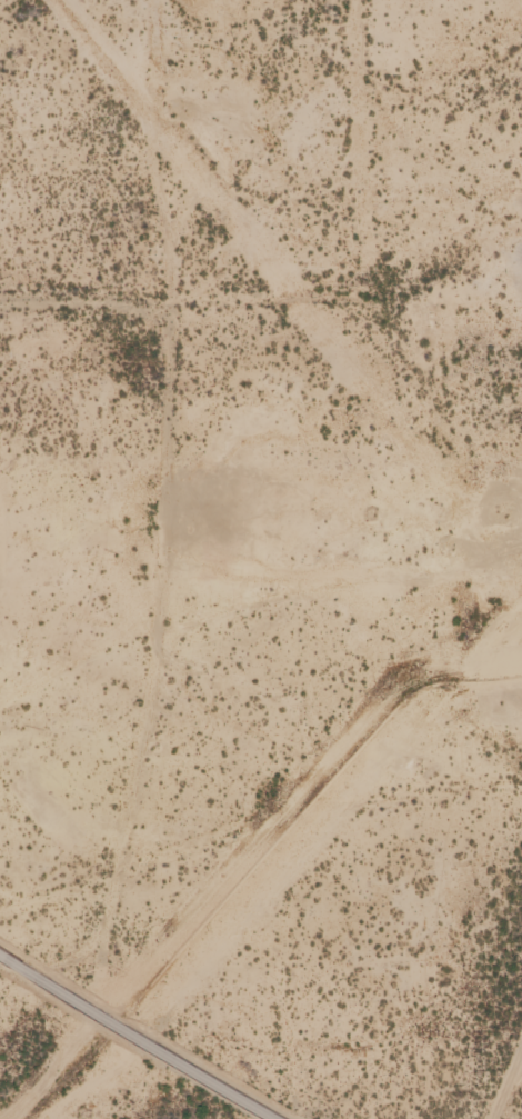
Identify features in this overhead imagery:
road: (100, 1059)

